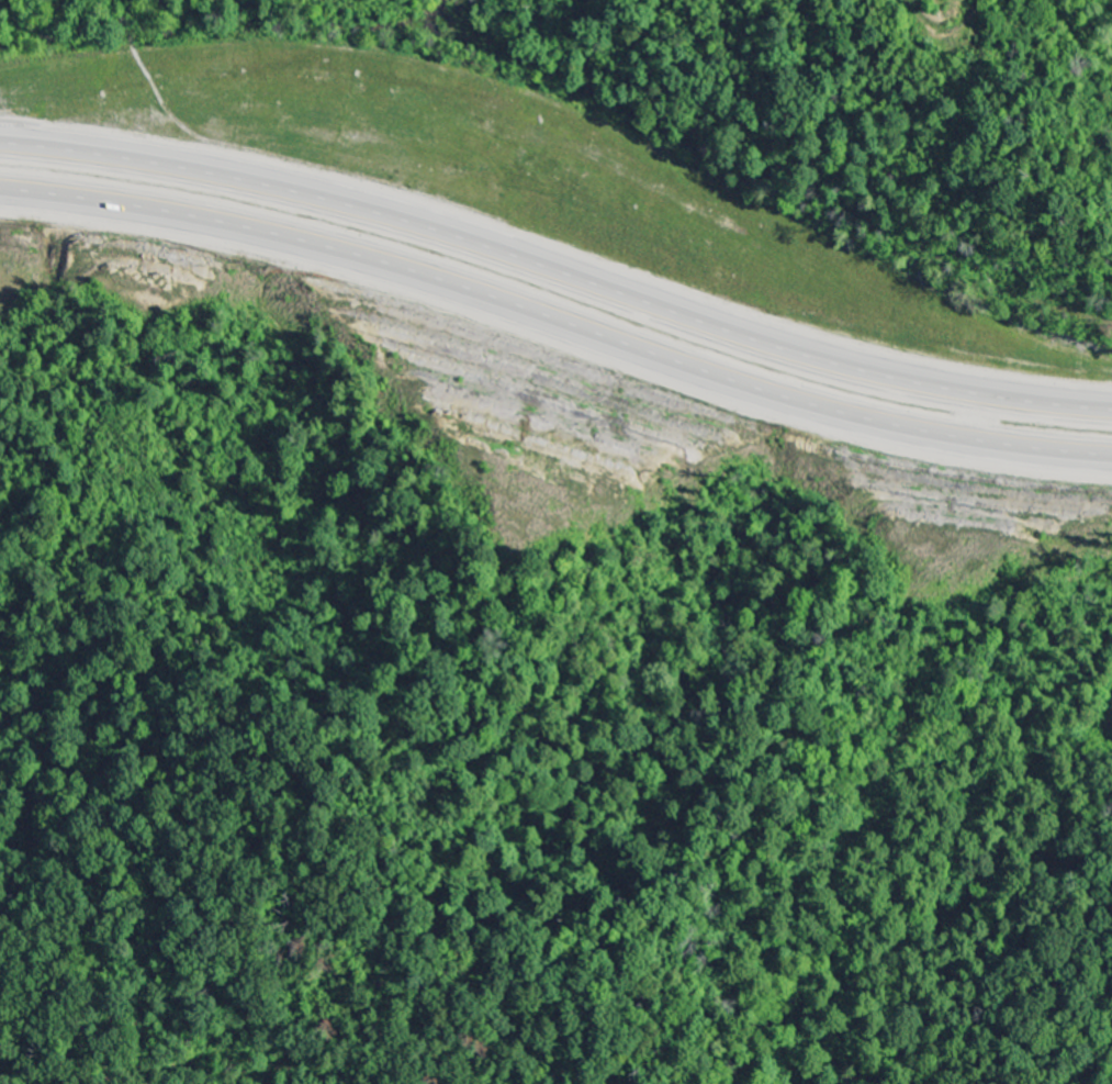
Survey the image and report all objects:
road: (558, 271)
road: (558, 319)

